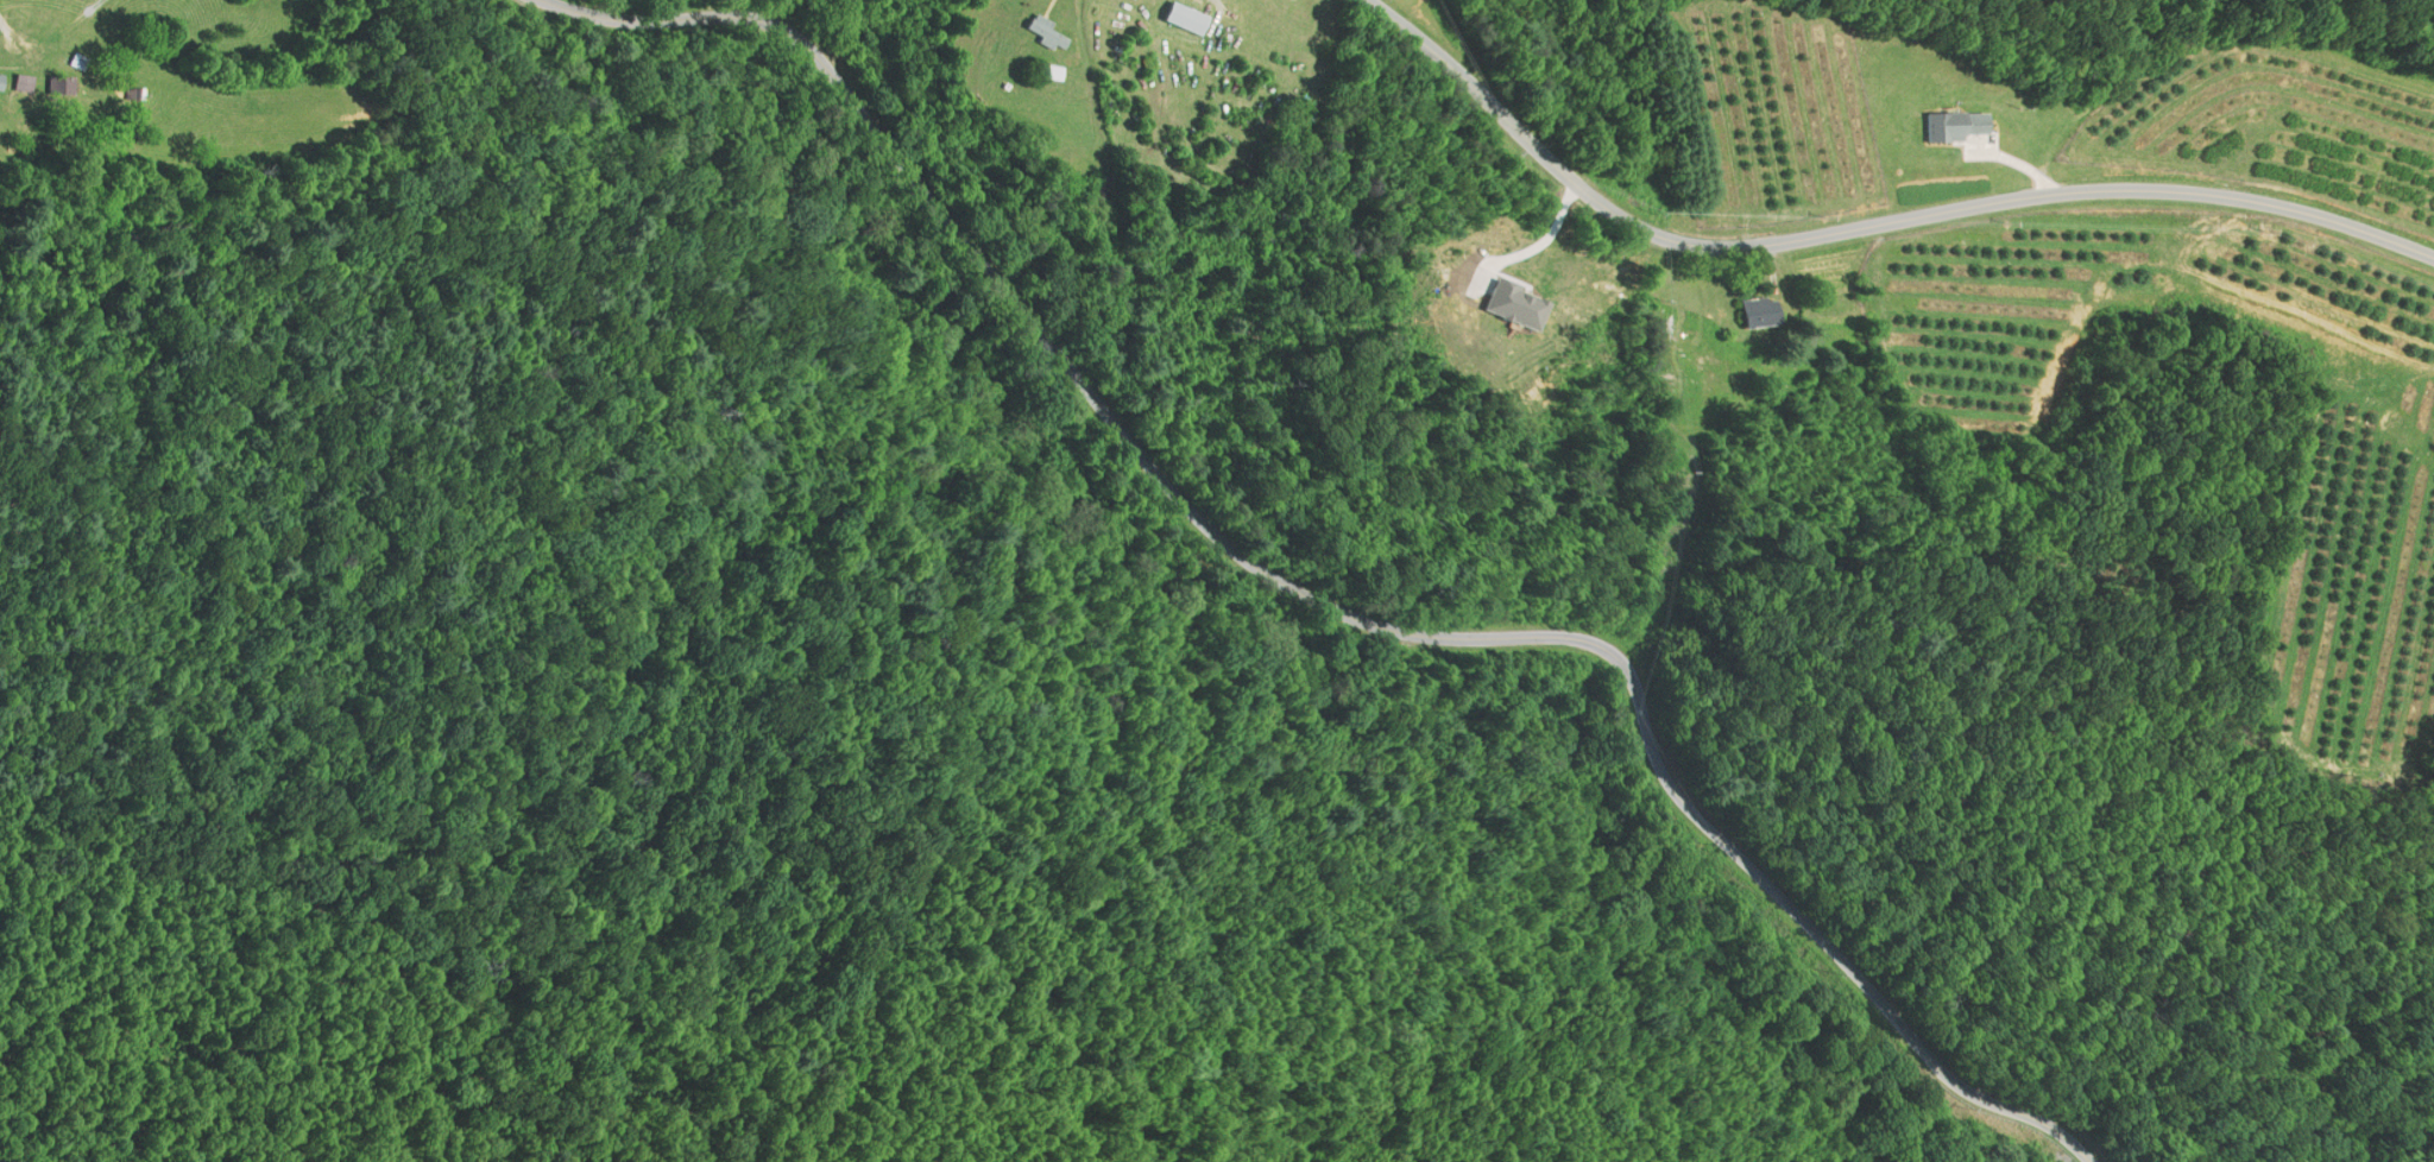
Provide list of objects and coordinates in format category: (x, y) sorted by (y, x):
building: (1180, 18)
building: (1040, 32)
road: (12, 34)
building: (1, 82)
building: (23, 83)
building: (57, 84)
building: (1955, 126)
road: (1866, 221)
building: (1751, 312)
road: (1323, 600)

